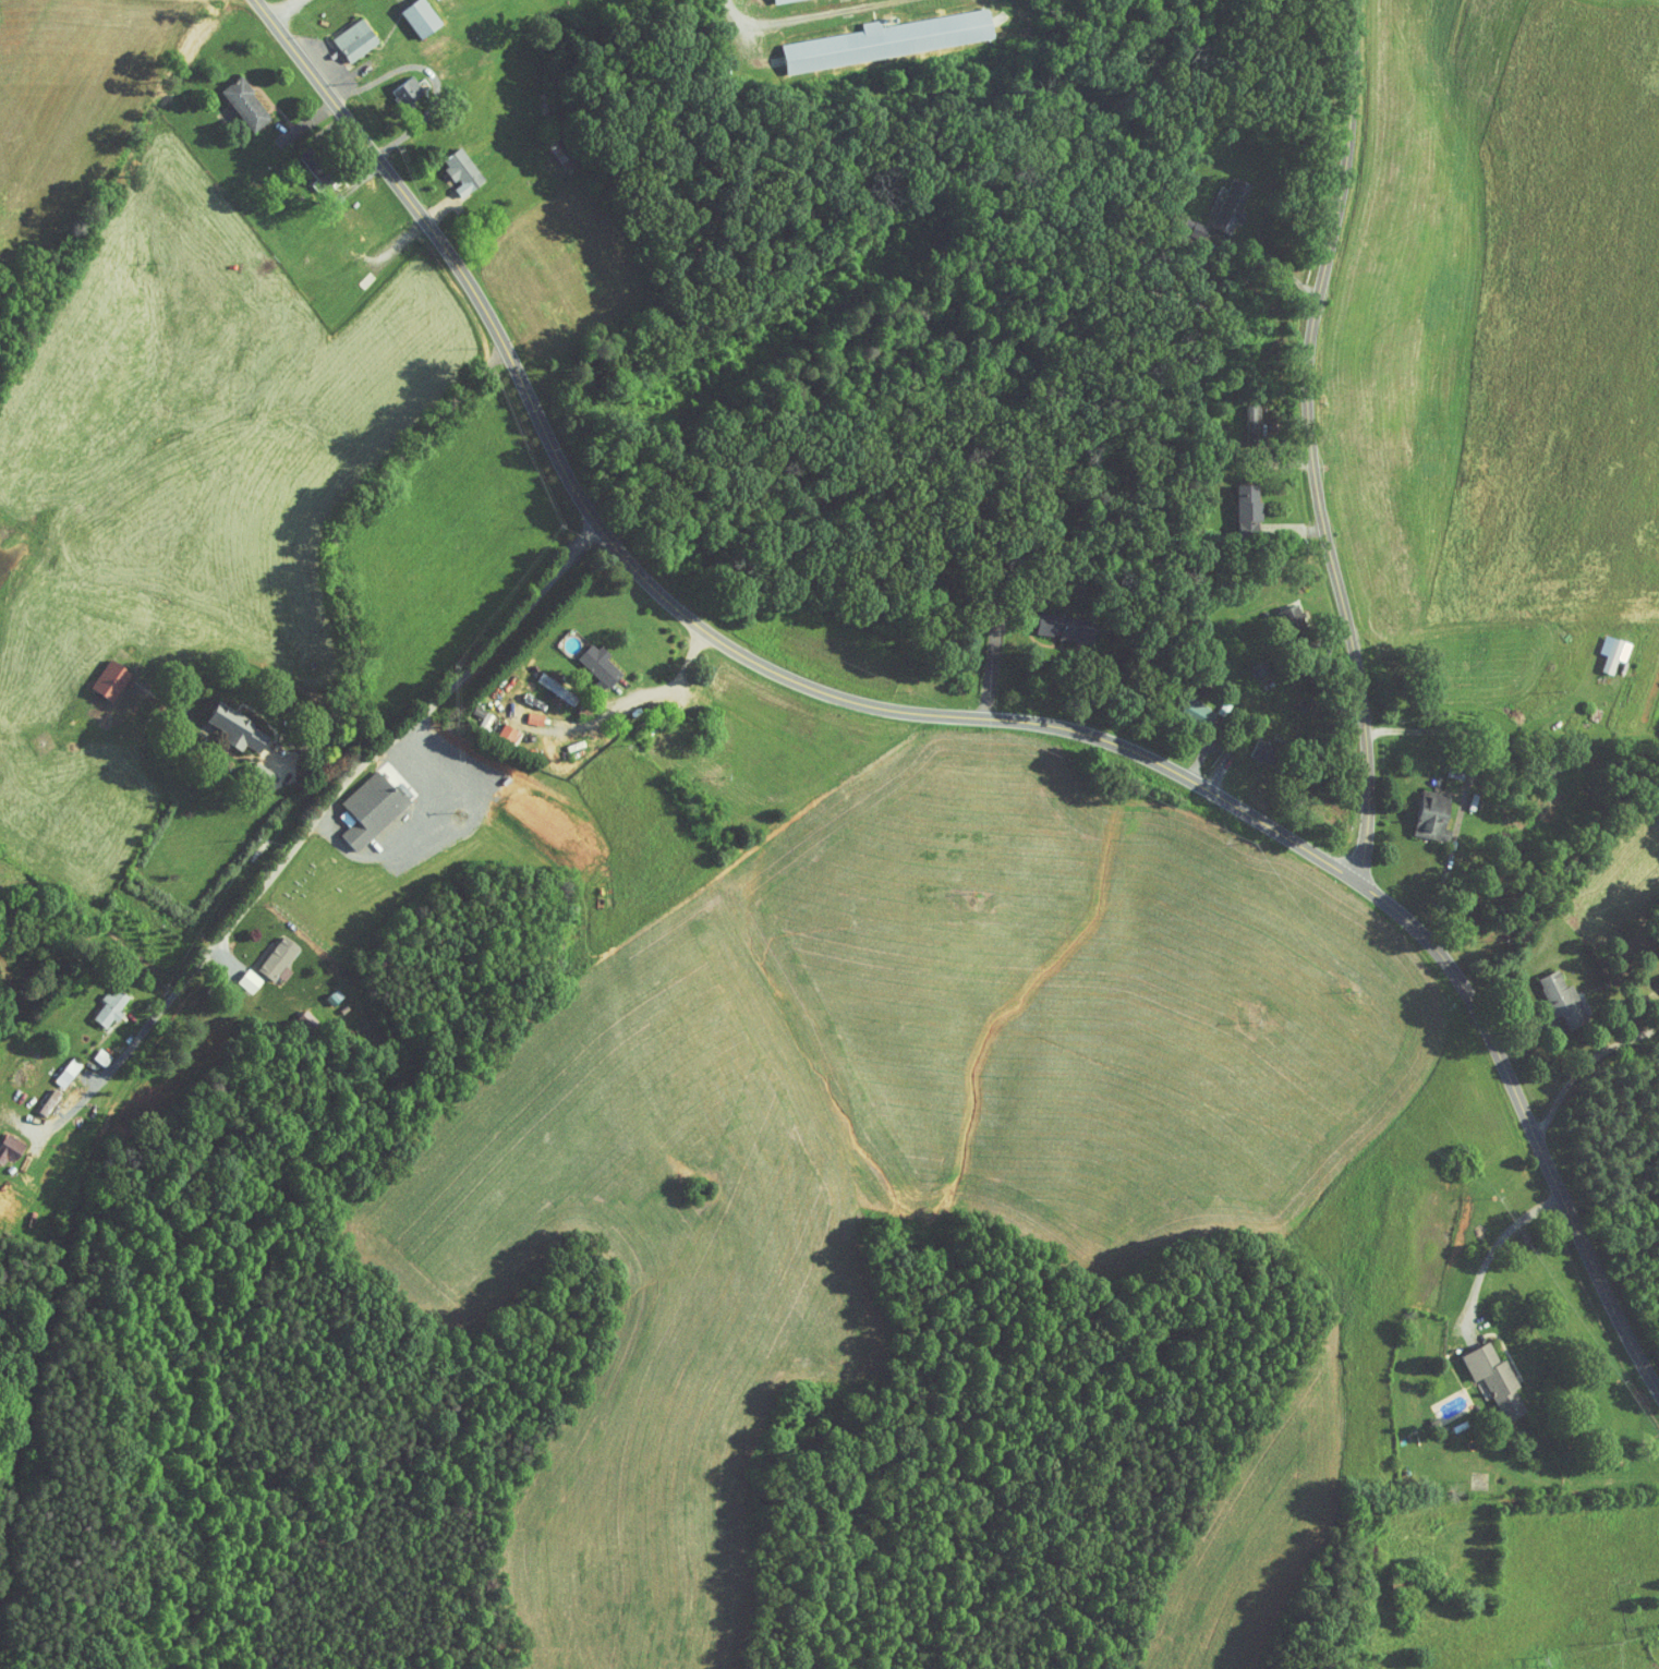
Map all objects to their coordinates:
road: (281, 7)
building: (404, 13)
road: (742, 21)
building: (339, 34)
building: (873, 34)
building: (392, 86)
building: (230, 98)
building: (447, 166)
building: (1216, 198)
building: (1177, 219)
building: (1238, 411)
road: (1309, 443)
building: (1233, 500)
road: (355, 505)
building: (1277, 614)
building: (1050, 621)
building: (1599, 646)
building: (583, 658)
building: (95, 675)
building: (542, 682)
road: (628, 688)
building: (1182, 707)
building: (469, 711)
building: (520, 712)
road: (953, 717)
building: (221, 722)
building: (493, 727)
road: (1470, 734)
building: (244, 769)
building: (354, 803)
building: (1428, 814)
building: (263, 951)
building: (1658, 977)
road: (181, 999)
building: (95, 1000)
building: (1559, 1000)
road: (1583, 1064)
building: (52, 1065)
road: (1488, 1248)
building: (1493, 1378)
building: (1364, 1552)
building: (1414, 1582)
power tower: (1613, 1641)
power tower: (1542, 1659)

